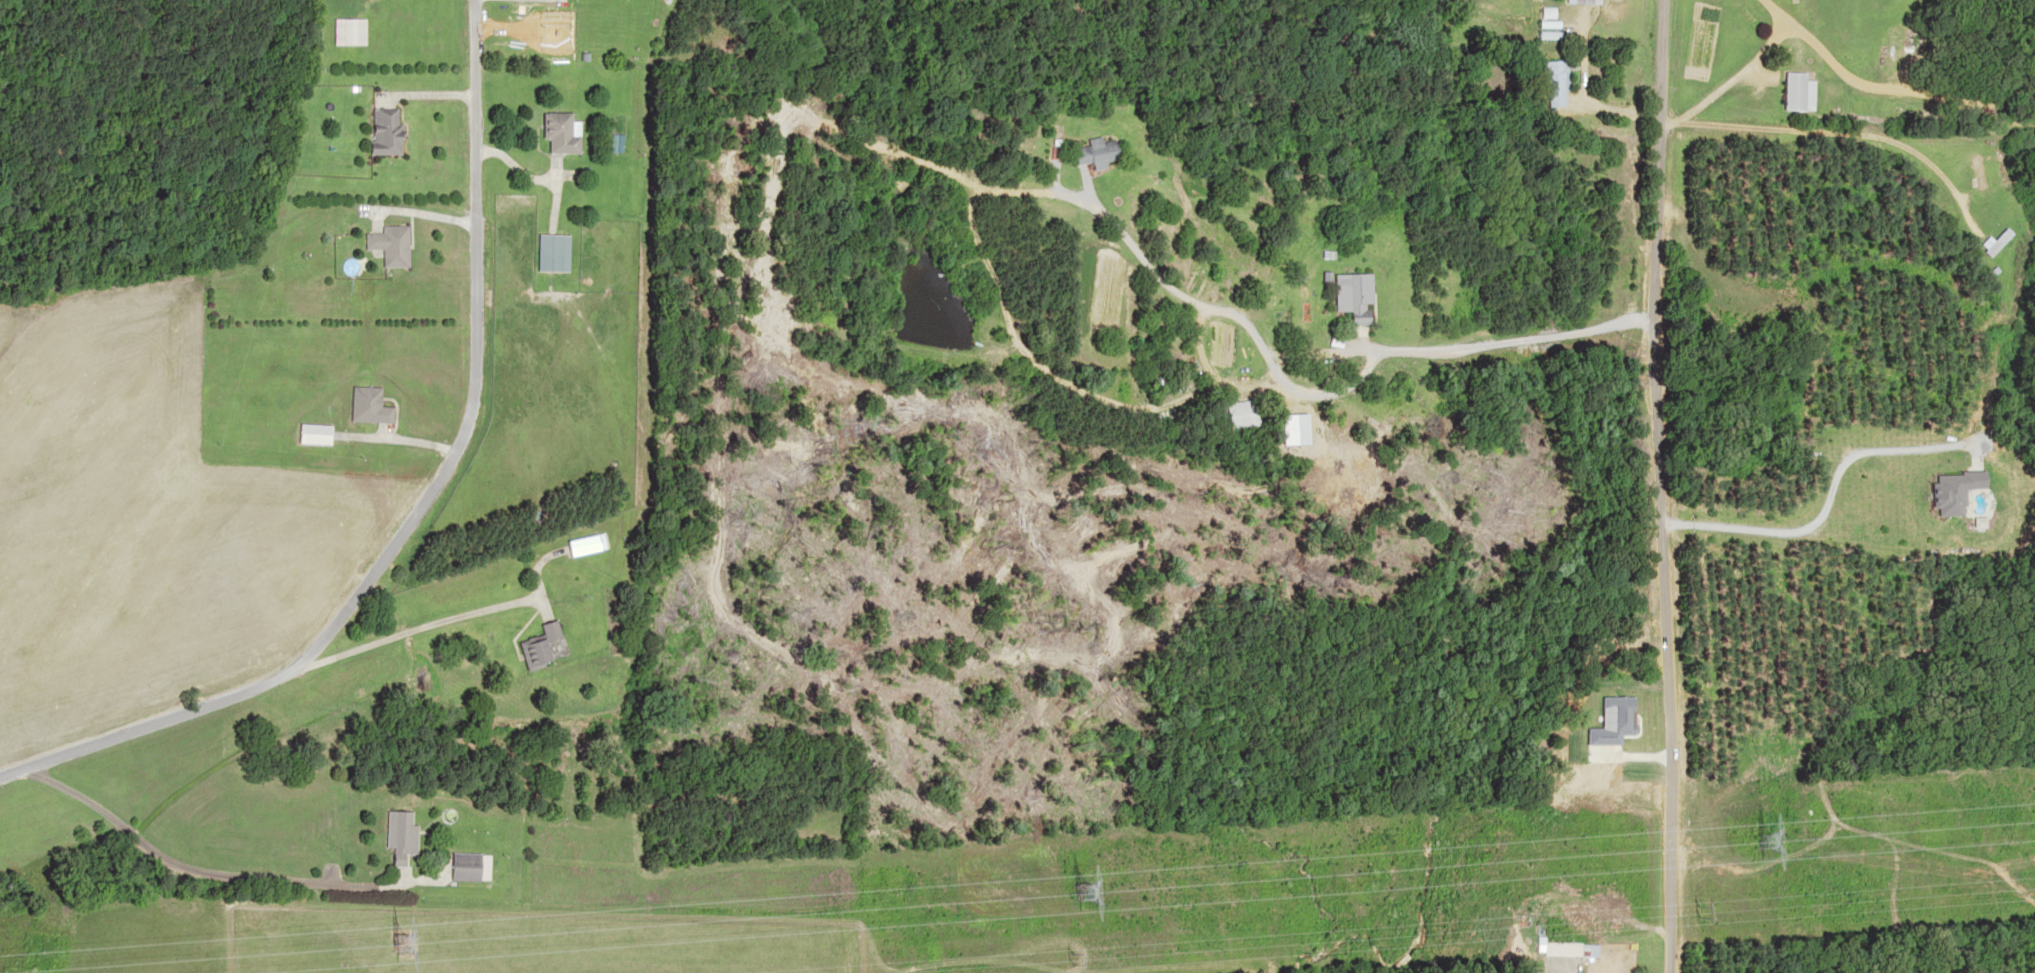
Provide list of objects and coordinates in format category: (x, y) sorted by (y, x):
building: (1582, 1)
building: (346, 31)
building: (1553, 82)
building: (1795, 91)
building: (382, 131)
building: (557, 131)
building: (1091, 151)
building: (1971, 169)
building: (1988, 241)
building: (386, 244)
building: (550, 251)
building: (1346, 295)
building: (364, 406)
building: (1235, 414)
building: (309, 434)
road: (1680, 486)
building: (591, 539)
building: (536, 645)
building: (397, 835)
power tower: (1782, 837)
building: (467, 866)
power tower: (1099, 891)
power tower: (1696, 910)
power tower: (413, 942)
building: (1562, 948)
power tower: (1067, 957)

